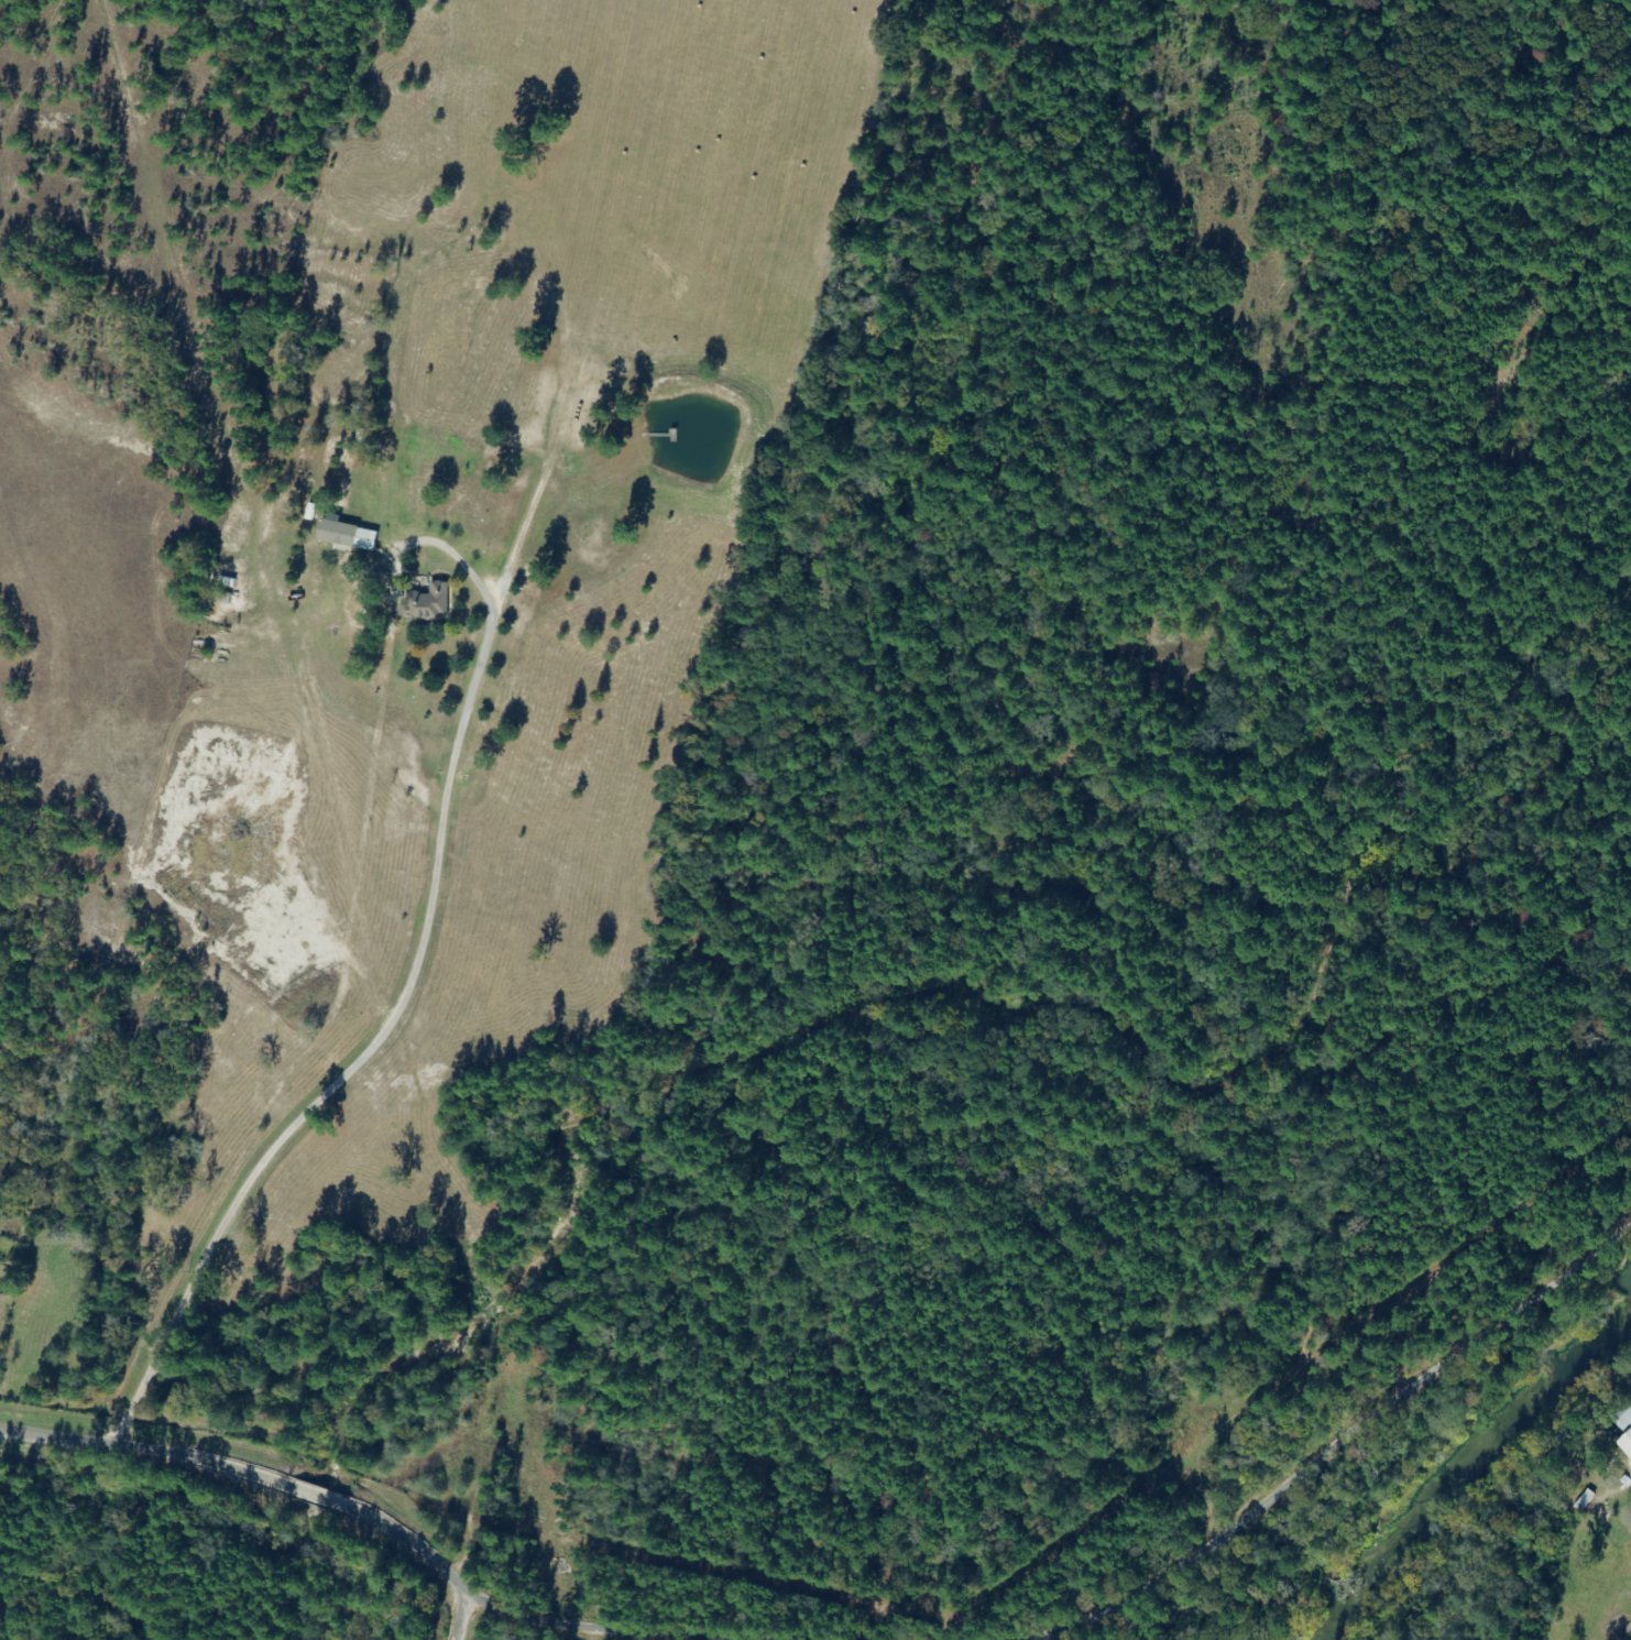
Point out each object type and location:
building: (361, 438)
building: (220, 597)
building: (425, 603)
road: (393, 1002)
road: (1441, 1287)
building: (1622, 1421)
building: (438, 1472)
building: (1581, 1500)
road: (234, 1534)
road: (1228, 1557)

